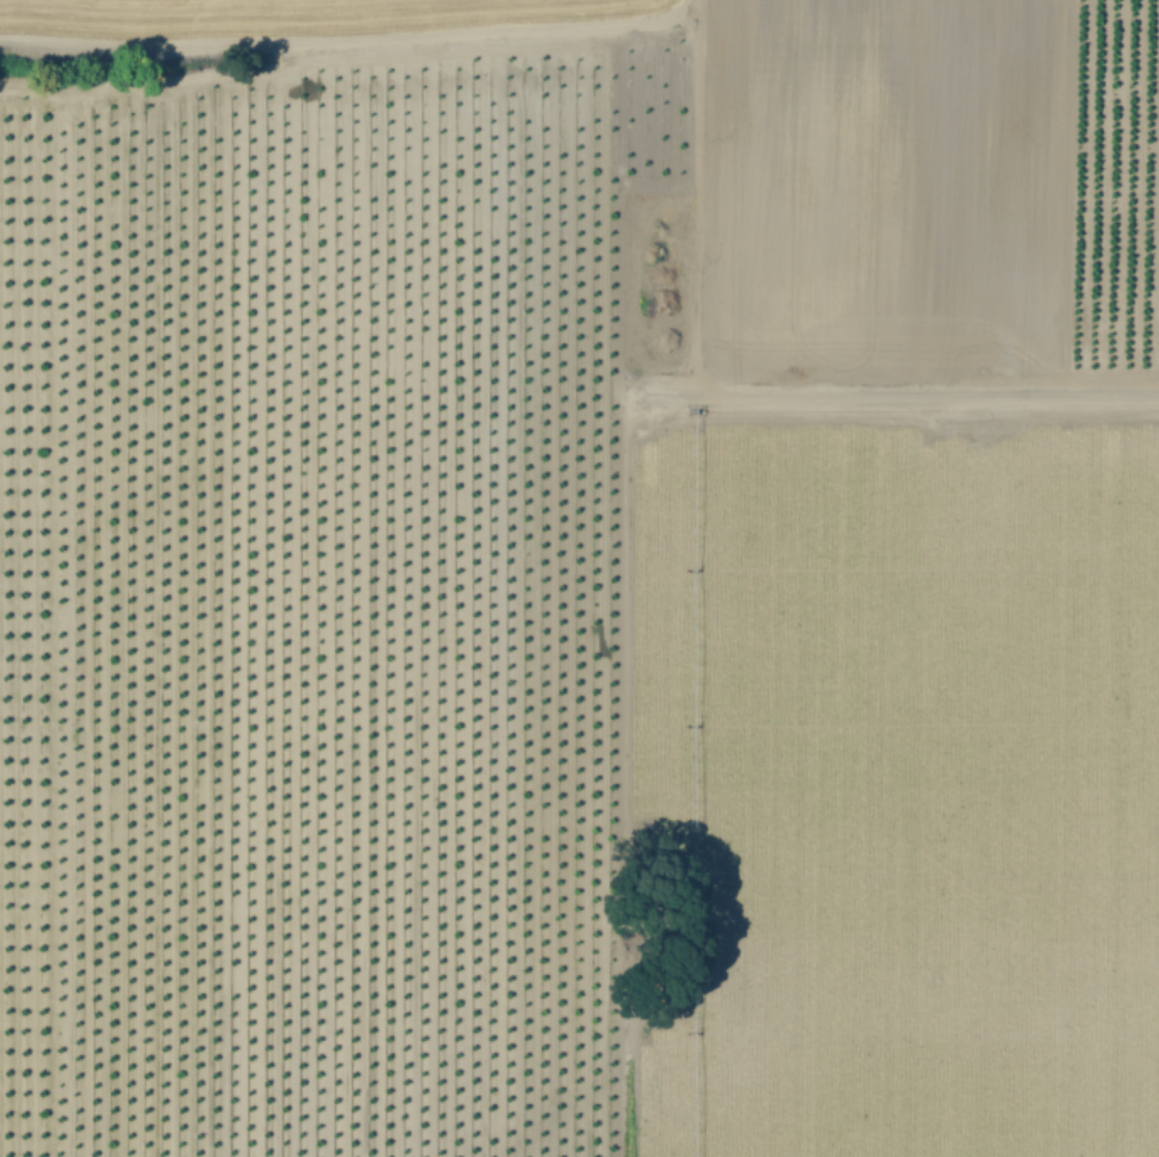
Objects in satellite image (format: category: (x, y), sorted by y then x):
crop: (579, 578)

